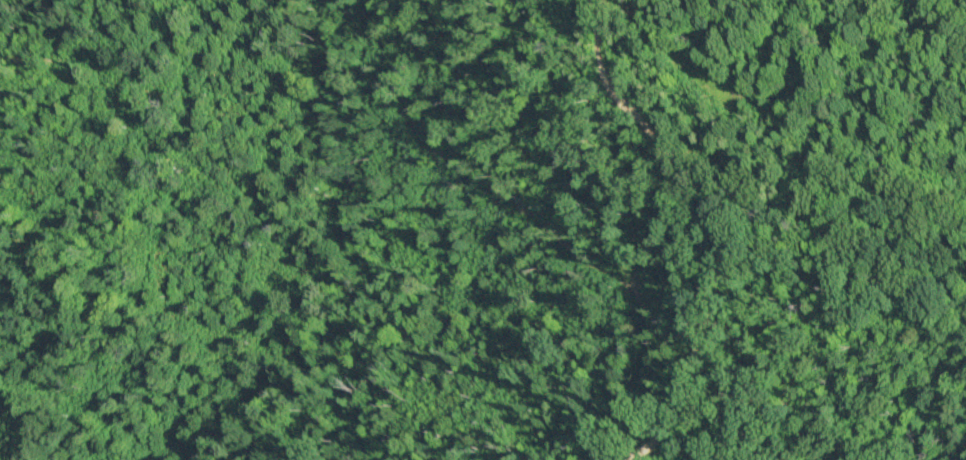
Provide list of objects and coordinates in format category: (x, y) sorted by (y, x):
road: (708, 229)

